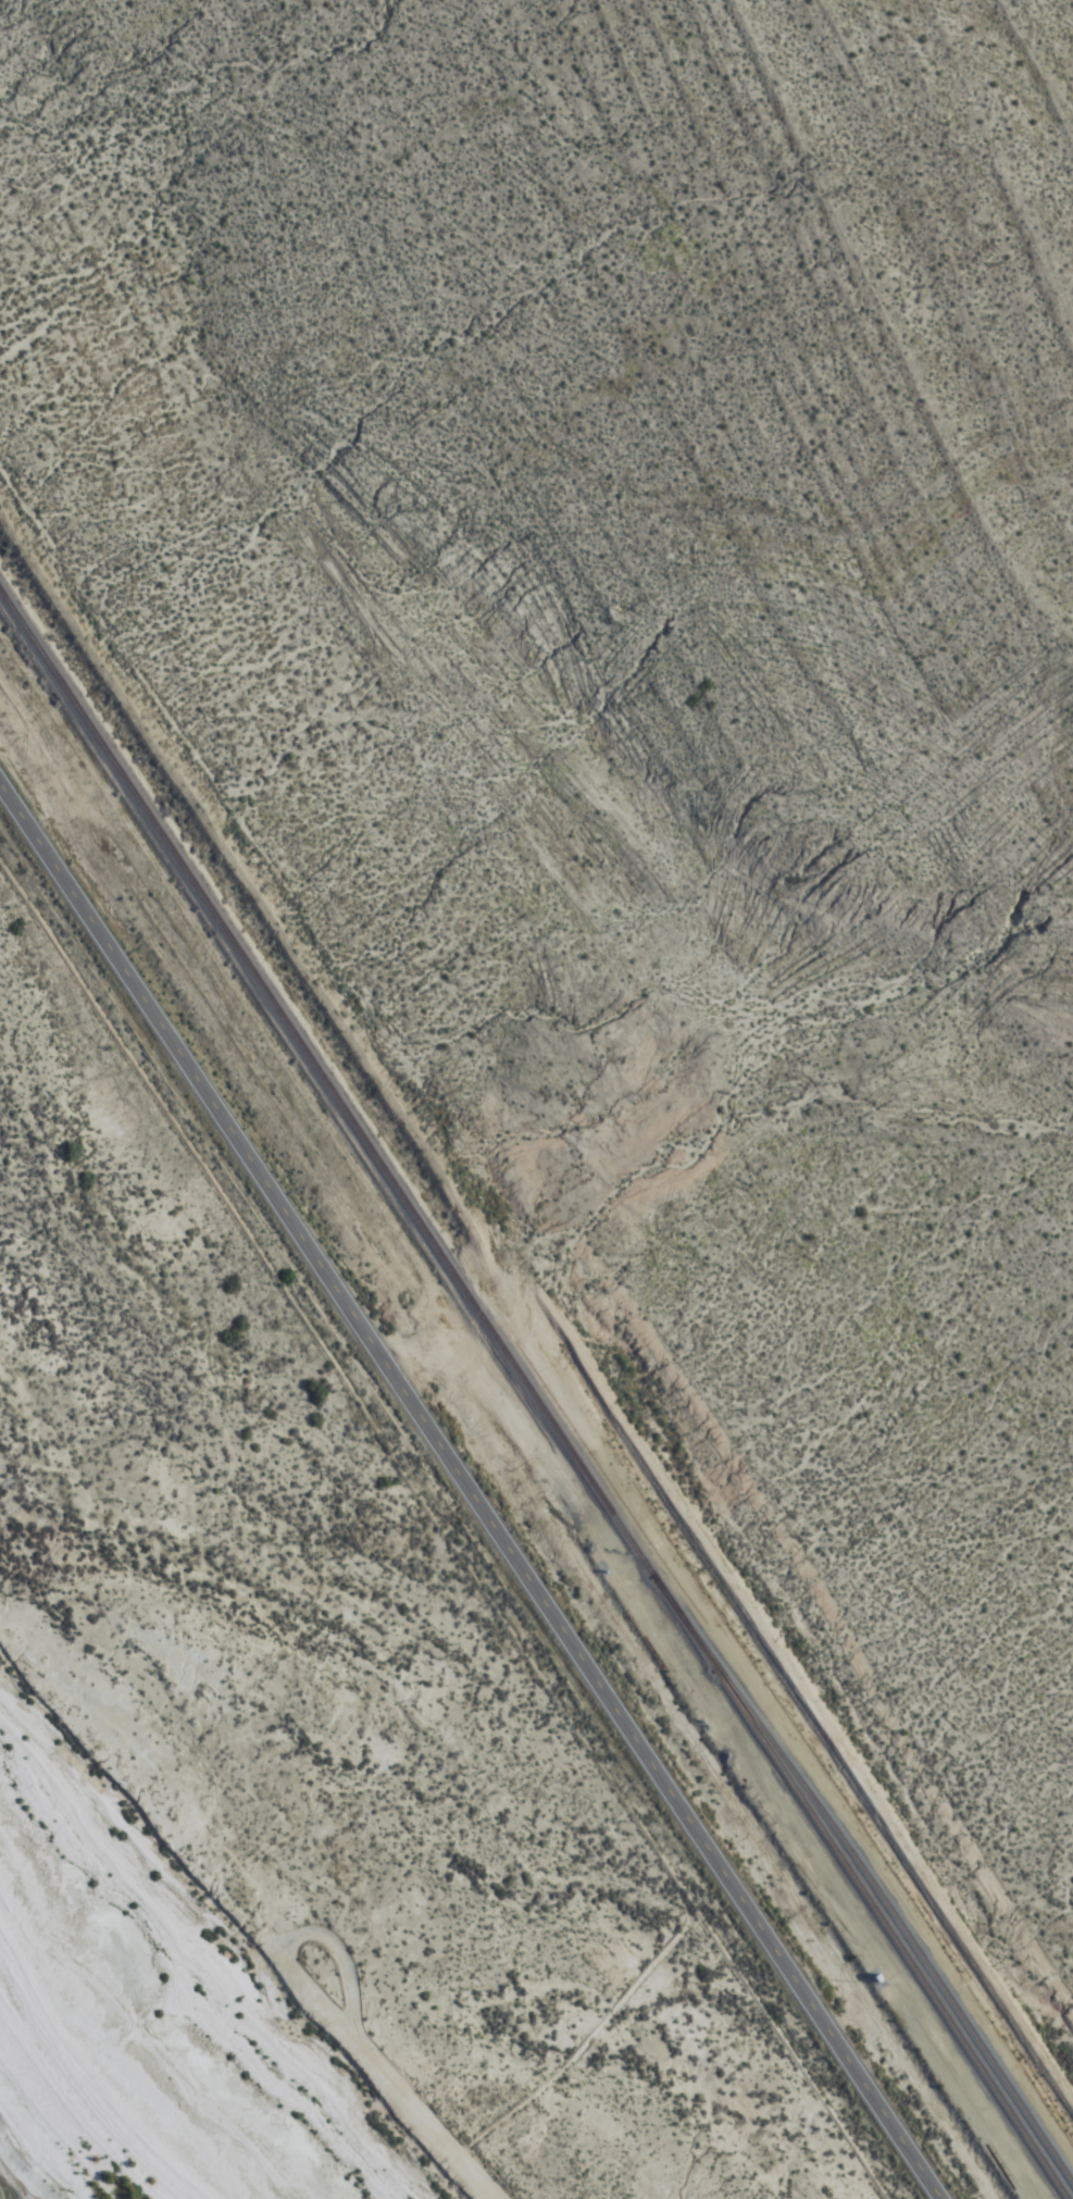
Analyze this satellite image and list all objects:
railway: (320, 1085)
road: (469, 1489)
railway: (870, 1879)
railway: (857, 1885)

